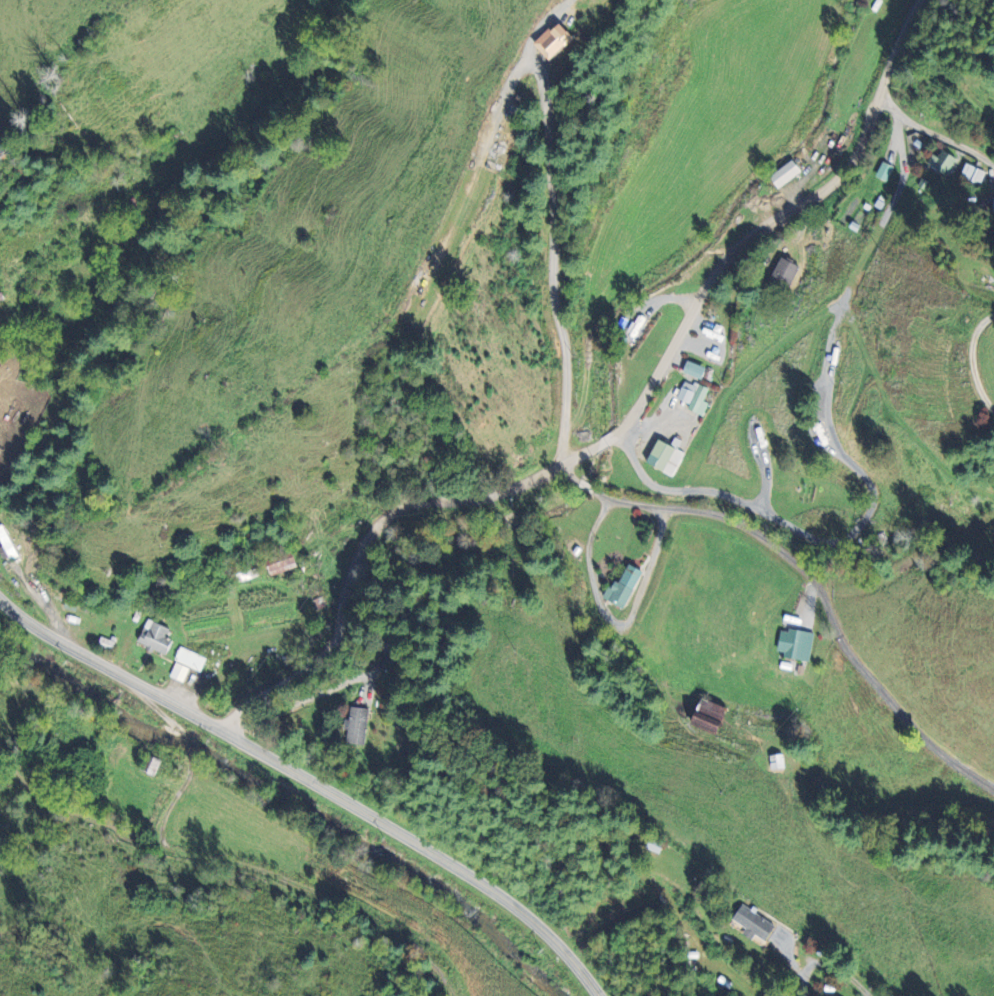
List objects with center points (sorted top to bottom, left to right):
building: (549, 40)
road: (932, 132)
building: (940, 162)
building: (883, 171)
building: (782, 173)
building: (971, 173)
building: (992, 205)
road: (554, 258)
building: (781, 275)
building: (0, 299)
road: (973, 360)
building: (691, 369)
building: (692, 396)
road: (618, 430)
building: (663, 458)
road: (570, 475)
road: (586, 484)
building: (280, 566)
building: (621, 587)
road: (823, 593)
road: (613, 621)
building: (154, 637)
building: (793, 644)
building: (185, 664)
building: (704, 716)
building: (355, 726)
building: (775, 761)
road: (311, 782)
road: (225, 865)
building: (750, 923)

